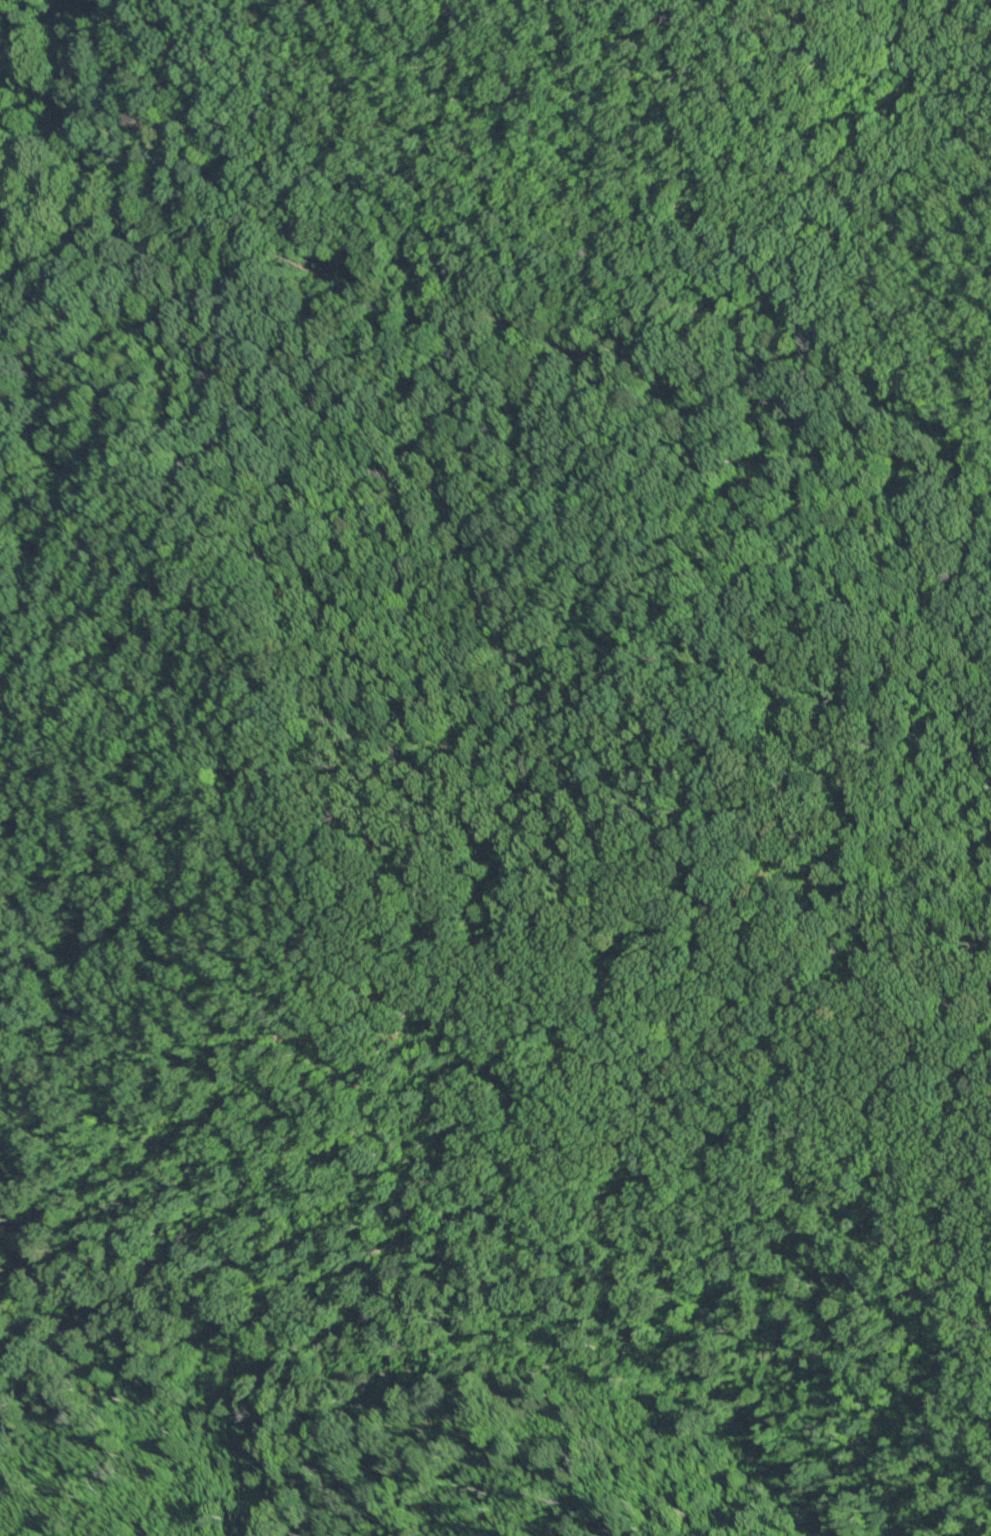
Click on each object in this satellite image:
road: (55, 164)

